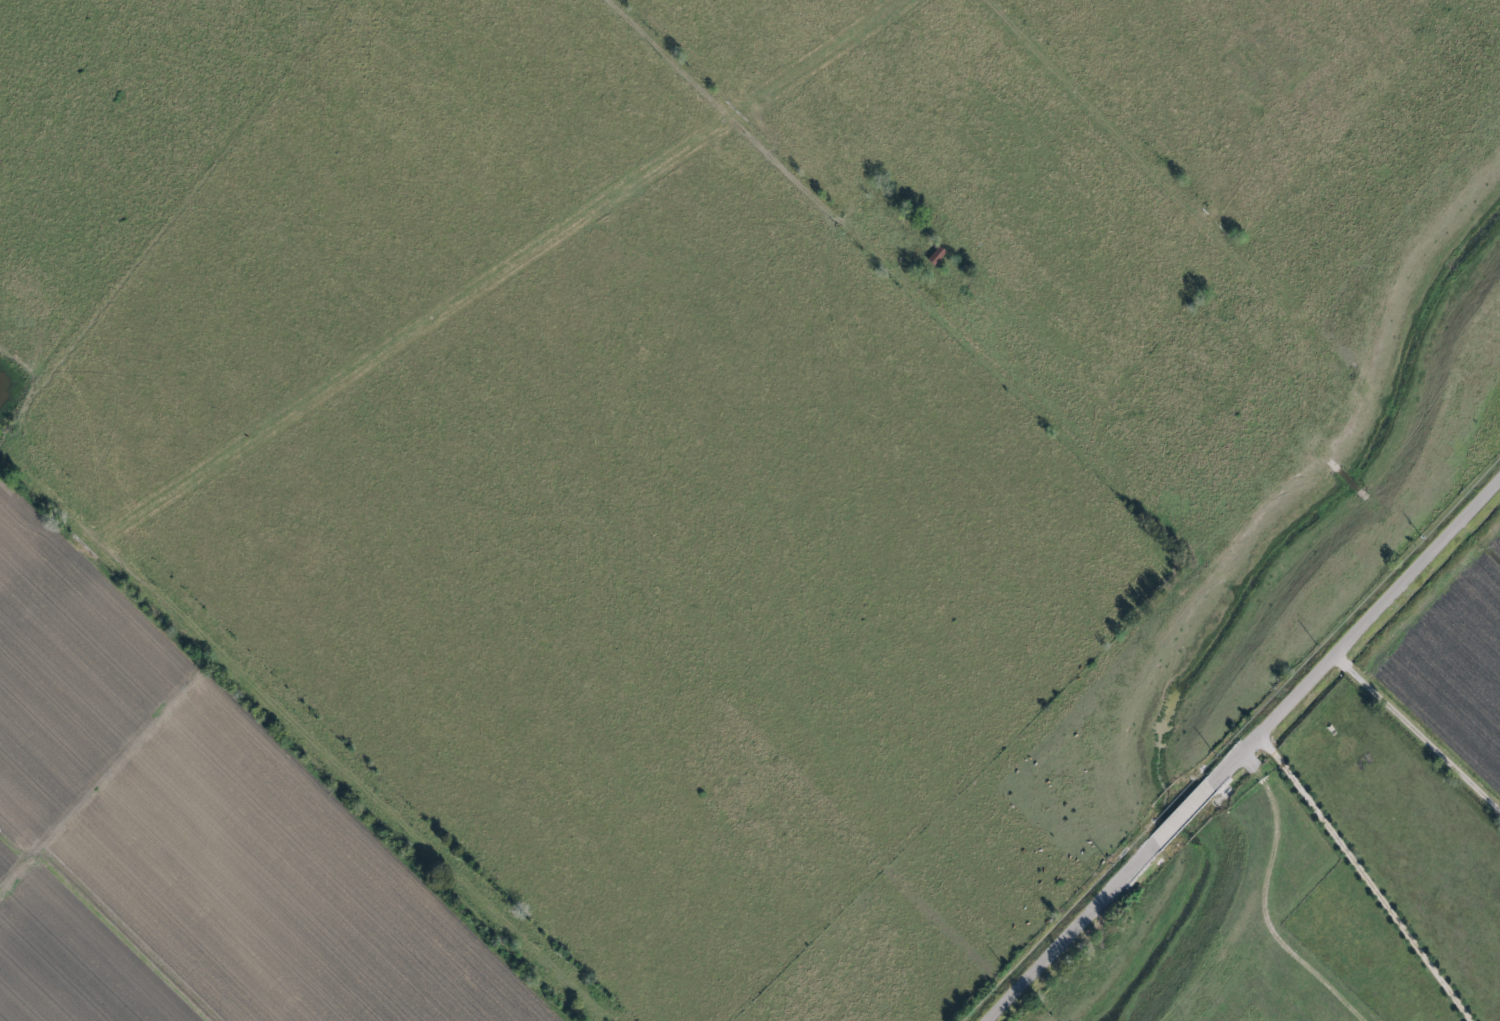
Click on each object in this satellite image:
building: (933, 256)
road: (897, 282)
road: (1419, 727)
road: (1244, 750)
road: (1371, 874)
road: (1263, 902)

